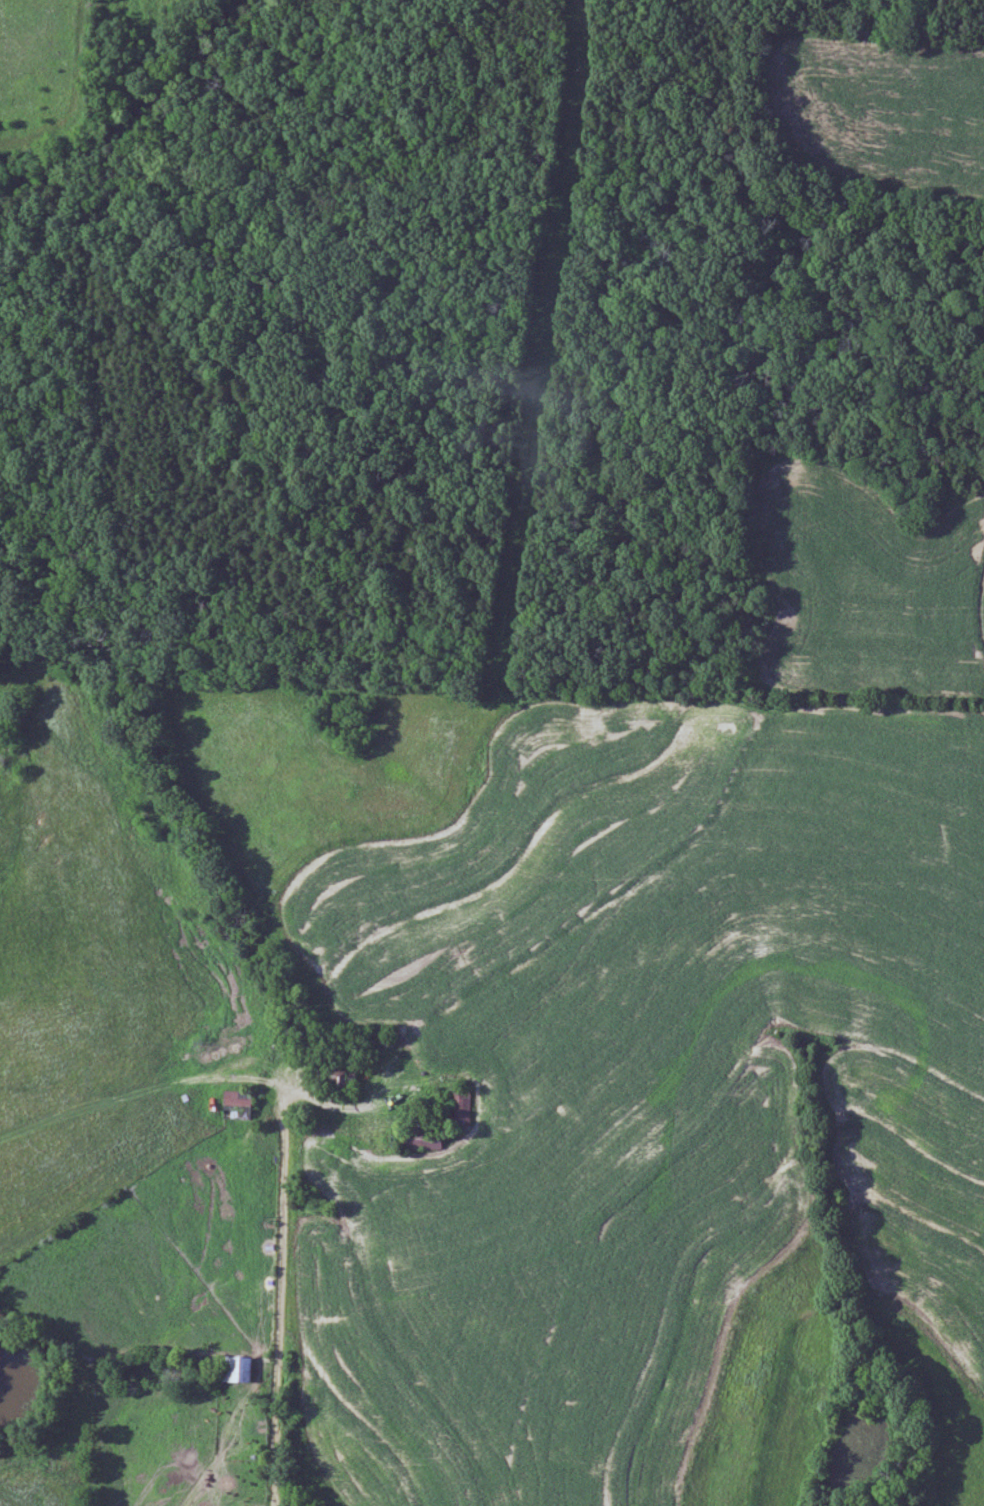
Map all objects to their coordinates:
building: (236, 1103)
building: (459, 1109)
road: (299, 1333)
building: (235, 1370)

